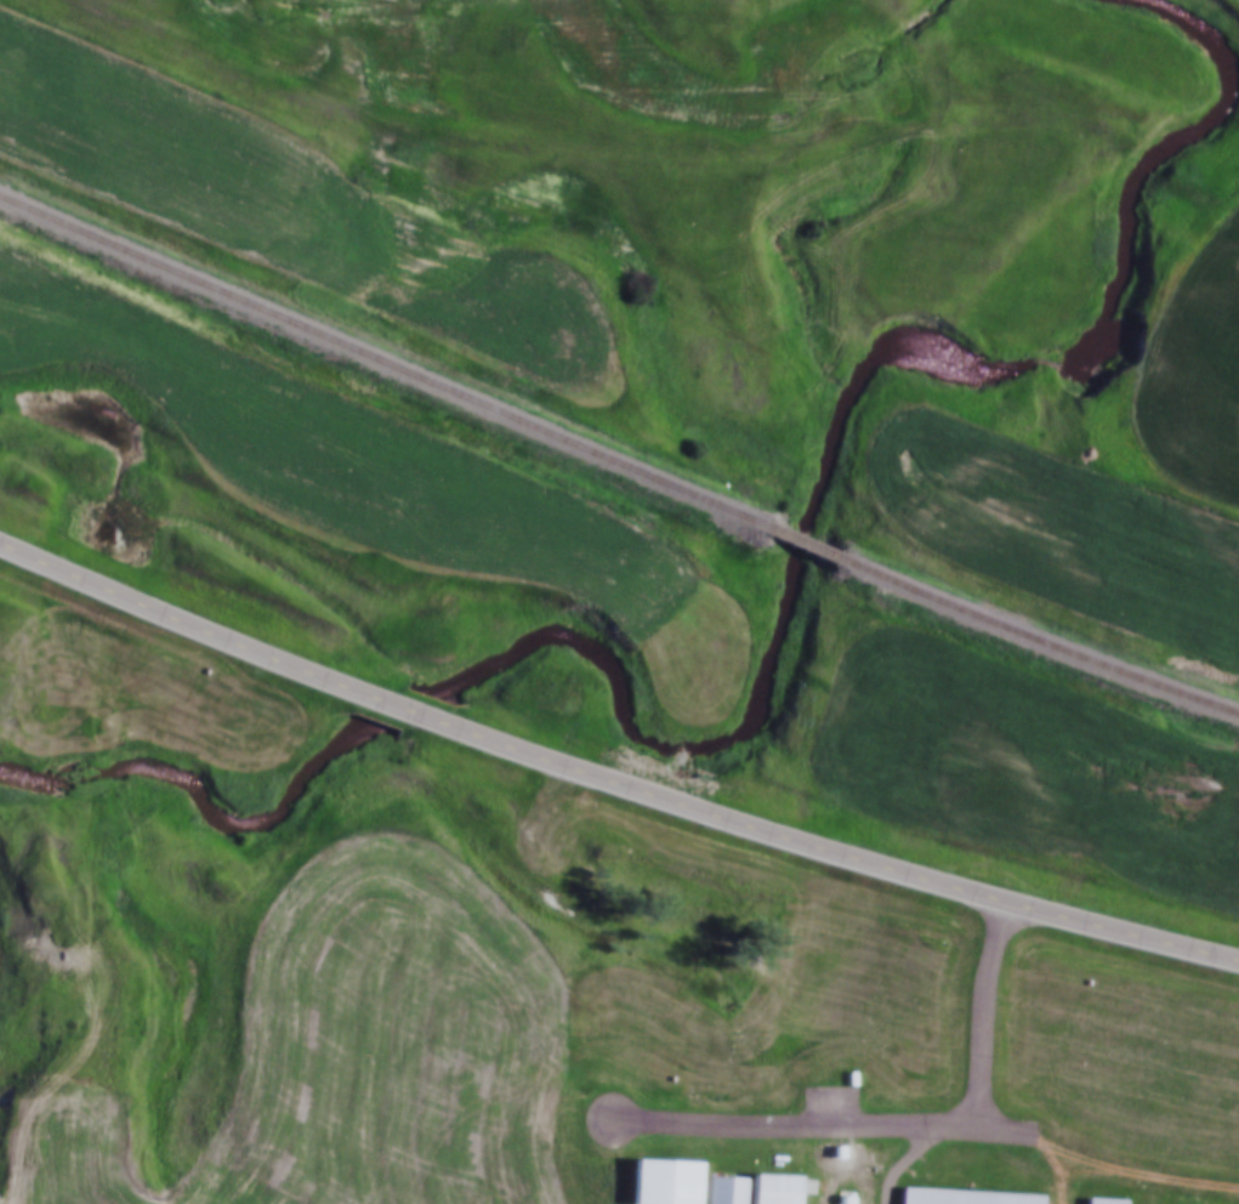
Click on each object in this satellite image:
railway: (616, 466)
road: (609, 785)
road: (978, 1033)
crop: (340, 1056)
road: (920, 1149)
building: (659, 1180)
road: (1119, 1180)
building: (773, 1189)
building: (724, 1193)
building: (961, 1198)
building: (1095, 1203)

